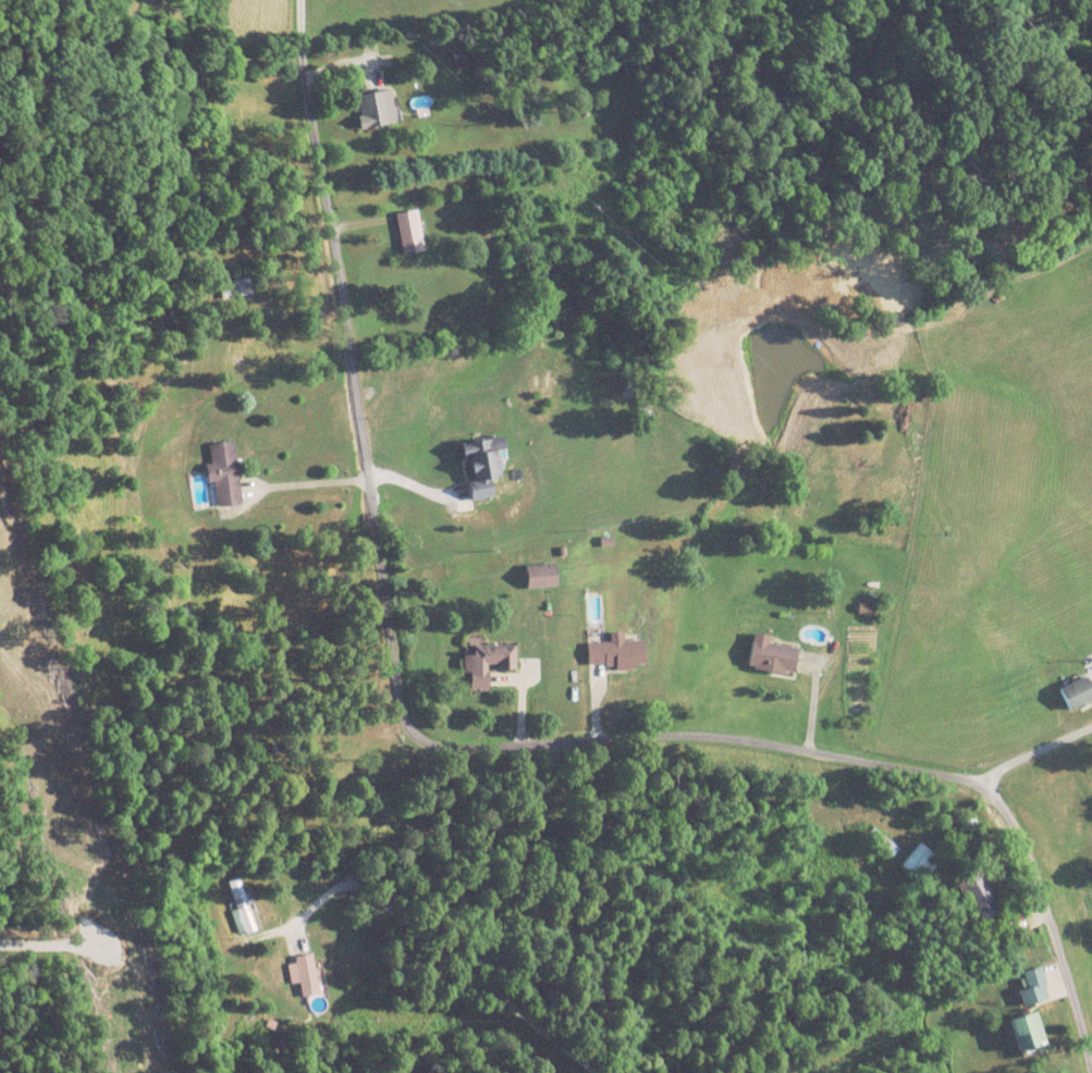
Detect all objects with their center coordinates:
building: (377, 108)
building: (410, 233)
building: (481, 471)
building: (542, 575)
building: (618, 654)
building: (775, 657)
building: (484, 664)
building: (1080, 692)
road: (479, 742)
road: (1040, 754)
building: (884, 841)
building: (920, 862)
building: (983, 898)
road: (53, 941)
road: (446, 959)
building: (307, 976)
building: (1030, 1032)

